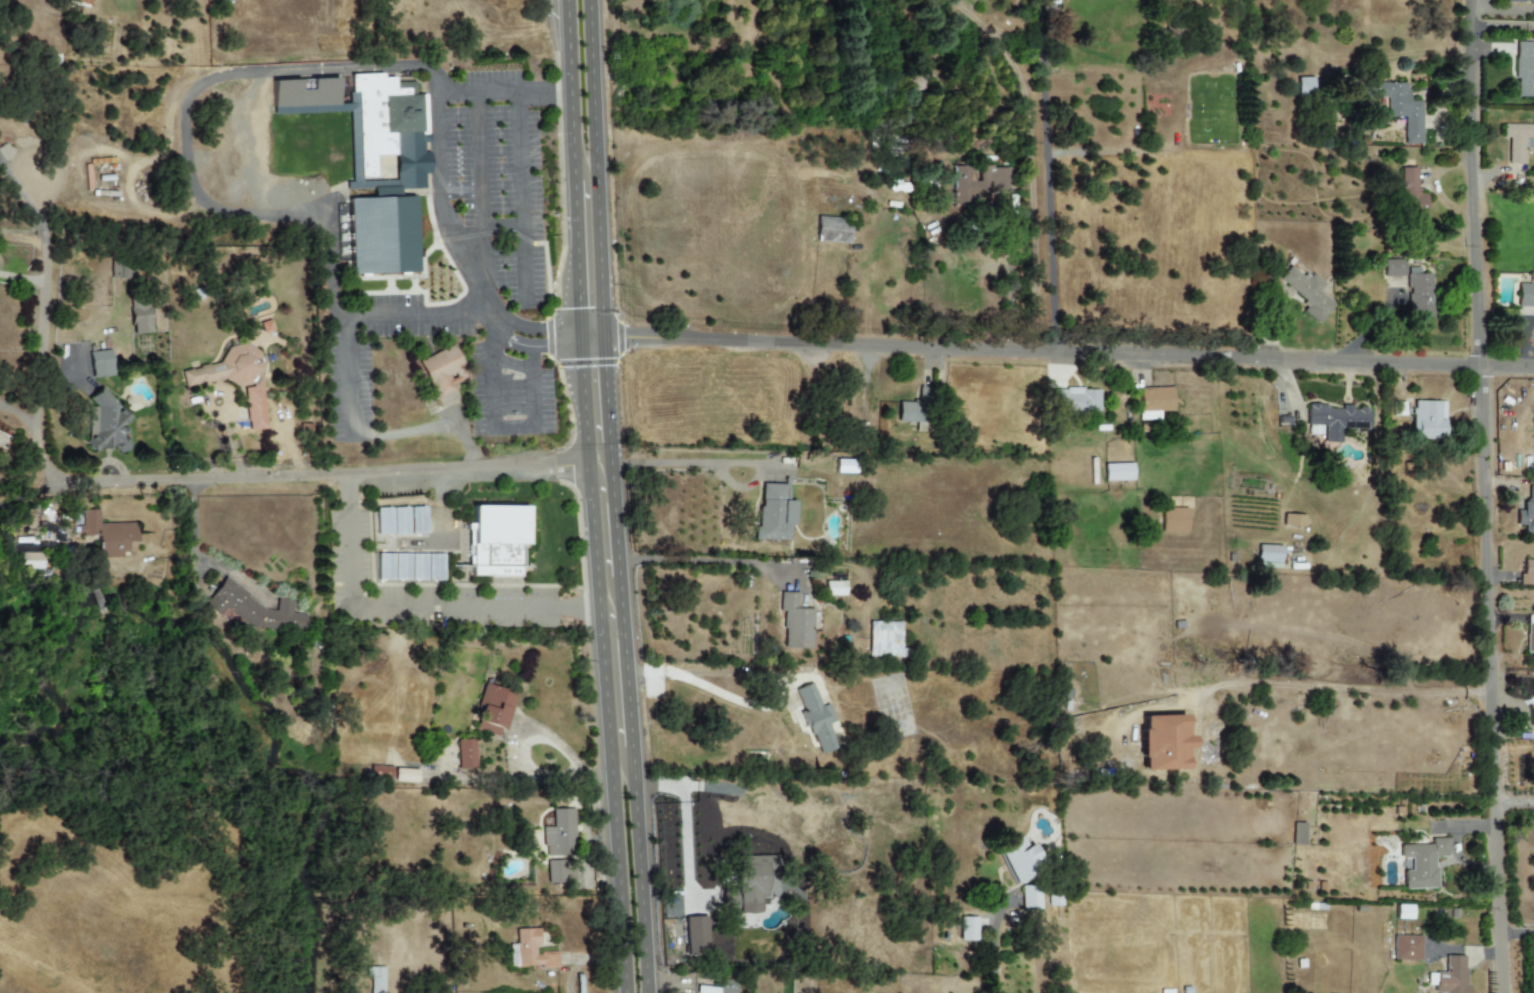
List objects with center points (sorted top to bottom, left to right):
building: (1520, 1)
building: (81, 2)
building: (1165, 59)
building: (1524, 69)
building: (1304, 86)
road: (564, 89)
building: (1398, 107)
building: (1518, 141)
road: (445, 157)
road: (1029, 161)
building: (373, 162)
road: (603, 167)
road: (1047, 177)
building: (976, 184)
road: (482, 185)
road: (195, 190)
road: (522, 193)
building: (1411, 194)
road: (26, 200)
road: (503, 225)
building: (833, 230)
road: (570, 251)
building: (1393, 268)
road: (21, 277)
traffic signals: (565, 293)
building: (1308, 294)
building: (1525, 295)
building: (1419, 296)
building: (139, 318)
road: (532, 324)
road: (589, 329)
road: (566, 335)
traffic signals: (631, 338)
road: (589, 340)
road: (527, 347)
traffic signals: (542, 348)
road: (1072, 352)
building: (101, 363)
building: (225, 368)
building: (442, 371)
traffic signals: (614, 376)
road: (490, 379)
building: (1075, 400)
building: (1154, 402)
road: (0, 403)
road: (0, 404)
building: (254, 410)
building: (913, 413)
road: (20, 415)
building: (1427, 420)
building: (1335, 421)
building: (106, 423)
road: (423, 432)
road: (468, 438)
road: (741, 463)
road: (668, 465)
road: (773, 468)
building: (1118, 472)
road: (195, 479)
road: (740, 487)
road: (28, 494)
road: (1485, 496)
building: (774, 513)
building: (1527, 513)
building: (1173, 519)
building: (401, 520)
building: (1293, 520)
building: (107, 534)
road: (605, 535)
building: (497, 540)
road: (194, 550)
building: (1268, 556)
road: (711, 561)
building: (393, 567)
building: (426, 567)
building: (1527, 573)
building: (834, 588)
road: (411, 607)
building: (255, 609)
building: (795, 622)
road: (616, 623)
building: (1530, 634)
building: (884, 639)
road: (629, 664)
road: (602, 668)
road: (683, 674)
road: (1335, 687)
building: (1533, 697)
building: (494, 709)
building: (817, 719)
road: (555, 740)
building: (1162, 742)
building: (466, 754)
building: (380, 771)
building: (405, 776)
road: (539, 778)
road: (601, 780)
road: (1514, 794)
road: (677, 821)
building: (1297, 834)
building: (558, 835)
road: (589, 856)
building: (1018, 860)
building: (1422, 863)
building: (555, 872)
building: (748, 885)
building: (1029, 898)
building: (1402, 912)
building: (1305, 921)
building: (968, 929)
building: (695, 936)
road: (994, 944)
building: (1406, 948)
building: (529, 951)
road: (580, 959)
building: (1451, 976)
road: (670, 979)
building: (714, 990)

